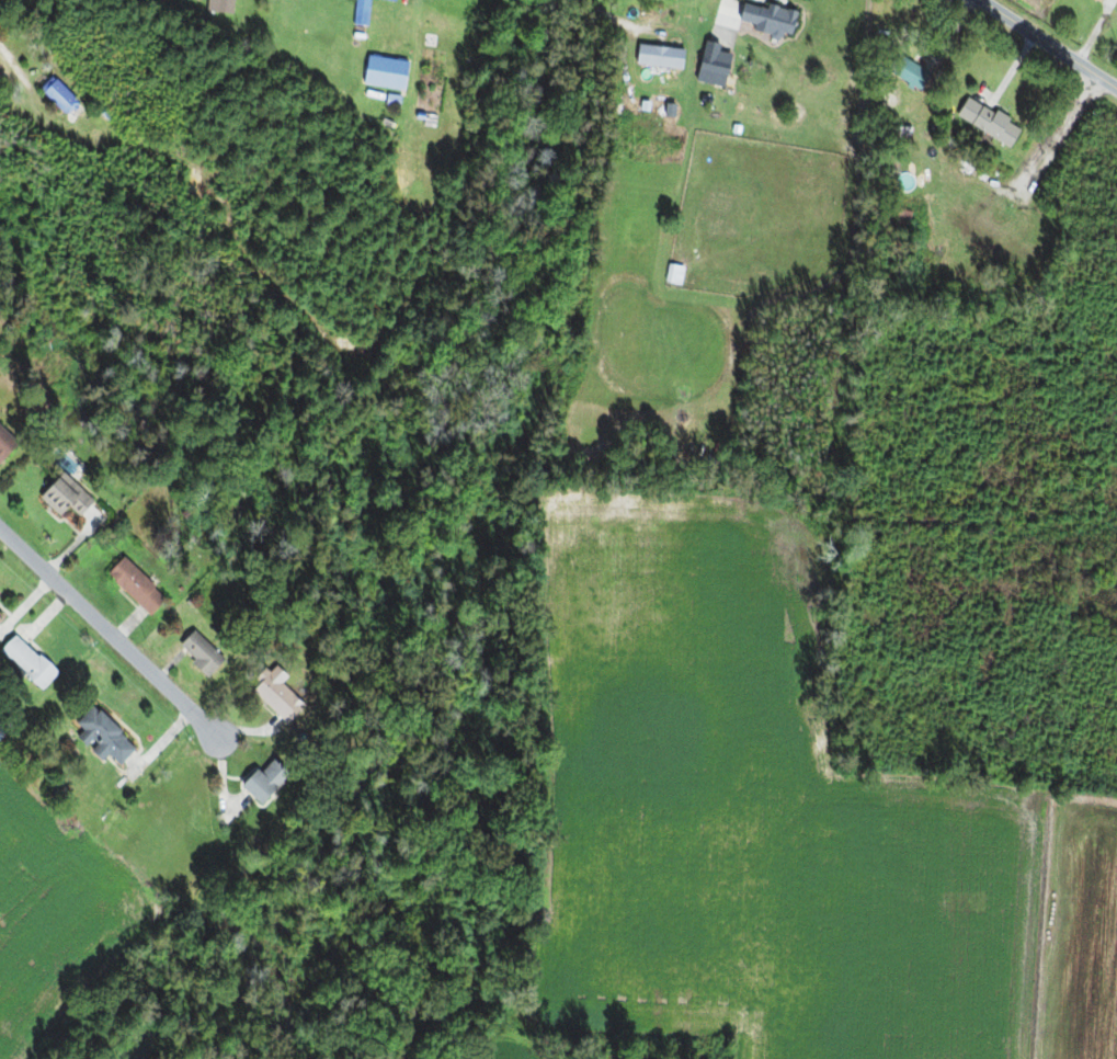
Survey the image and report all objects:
building: (1098, 0)
building: (763, 18)
road: (1056, 39)
building: (656, 56)
building: (708, 65)
building: (910, 76)
building: (55, 96)
building: (985, 122)
building: (894, 219)
building: (671, 274)
building: (3, 444)
building: (60, 496)
building: (132, 587)
road: (110, 630)
building: (195, 653)
building: (23, 661)
building: (272, 694)
building: (100, 736)
building: (259, 778)

